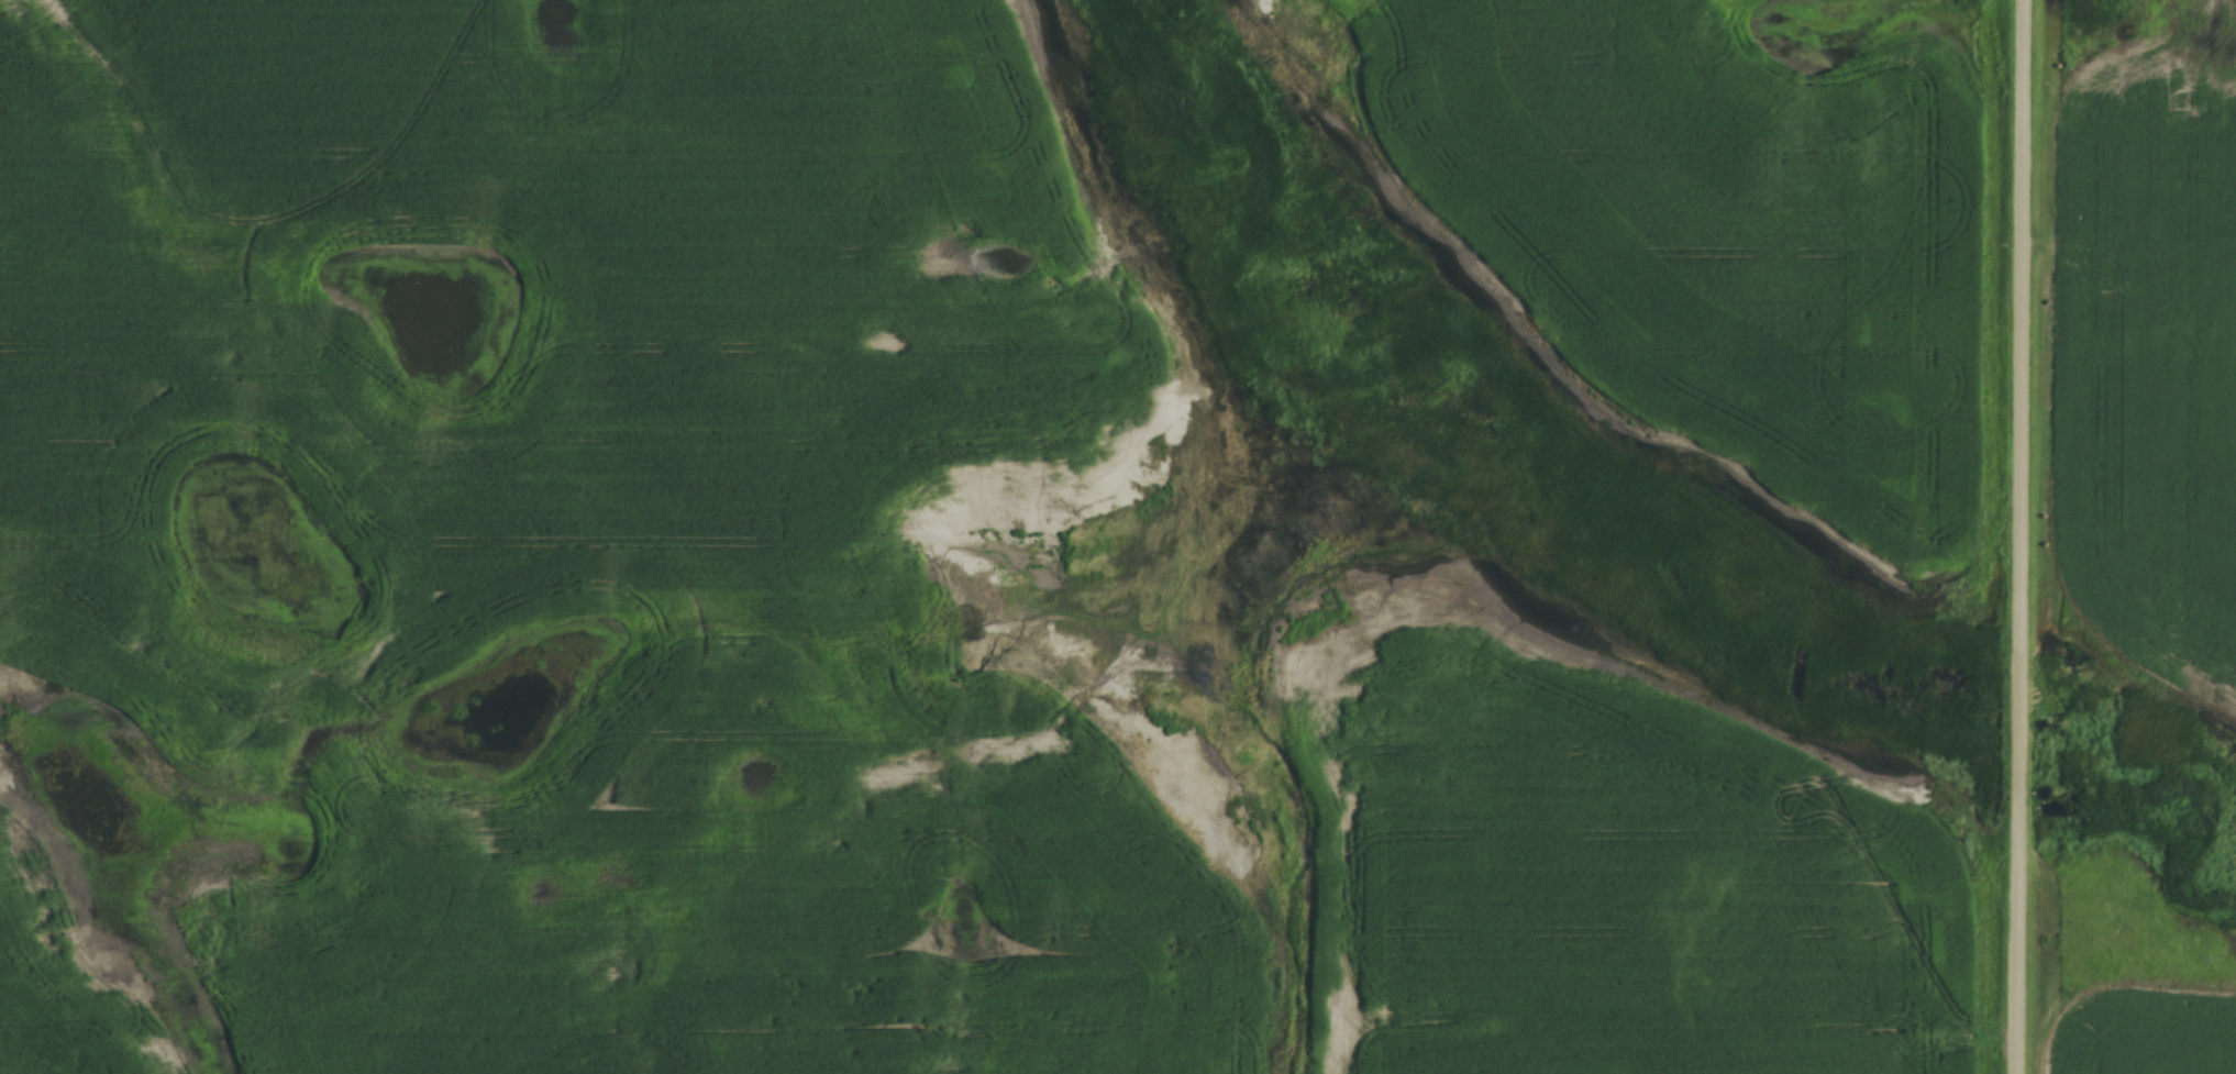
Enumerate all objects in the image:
road: (2019, 536)

